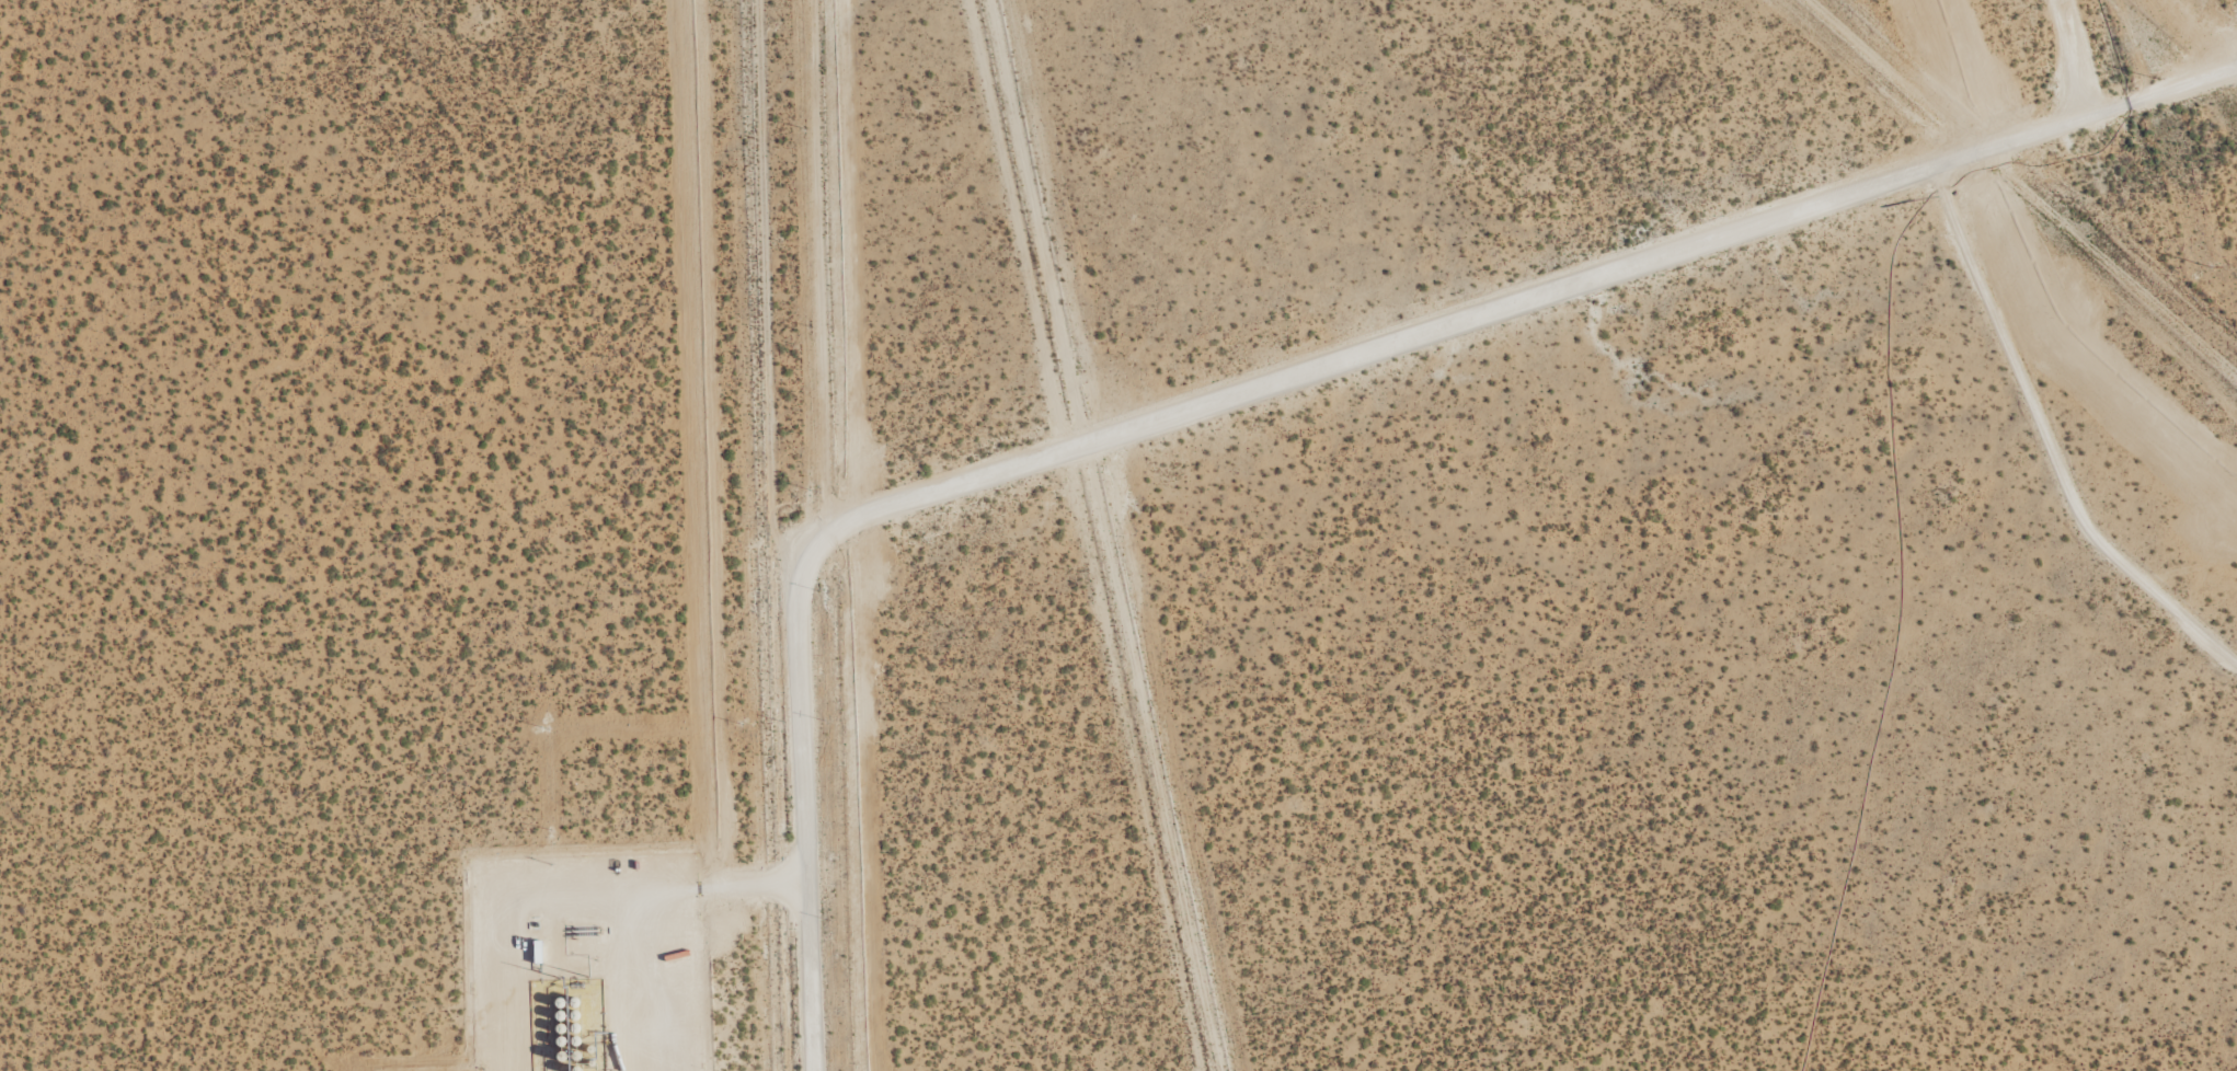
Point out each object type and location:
power tower: (2153, 78)
road: (2131, 218)
power tower: (2211, 267)
road: (1267, 381)

